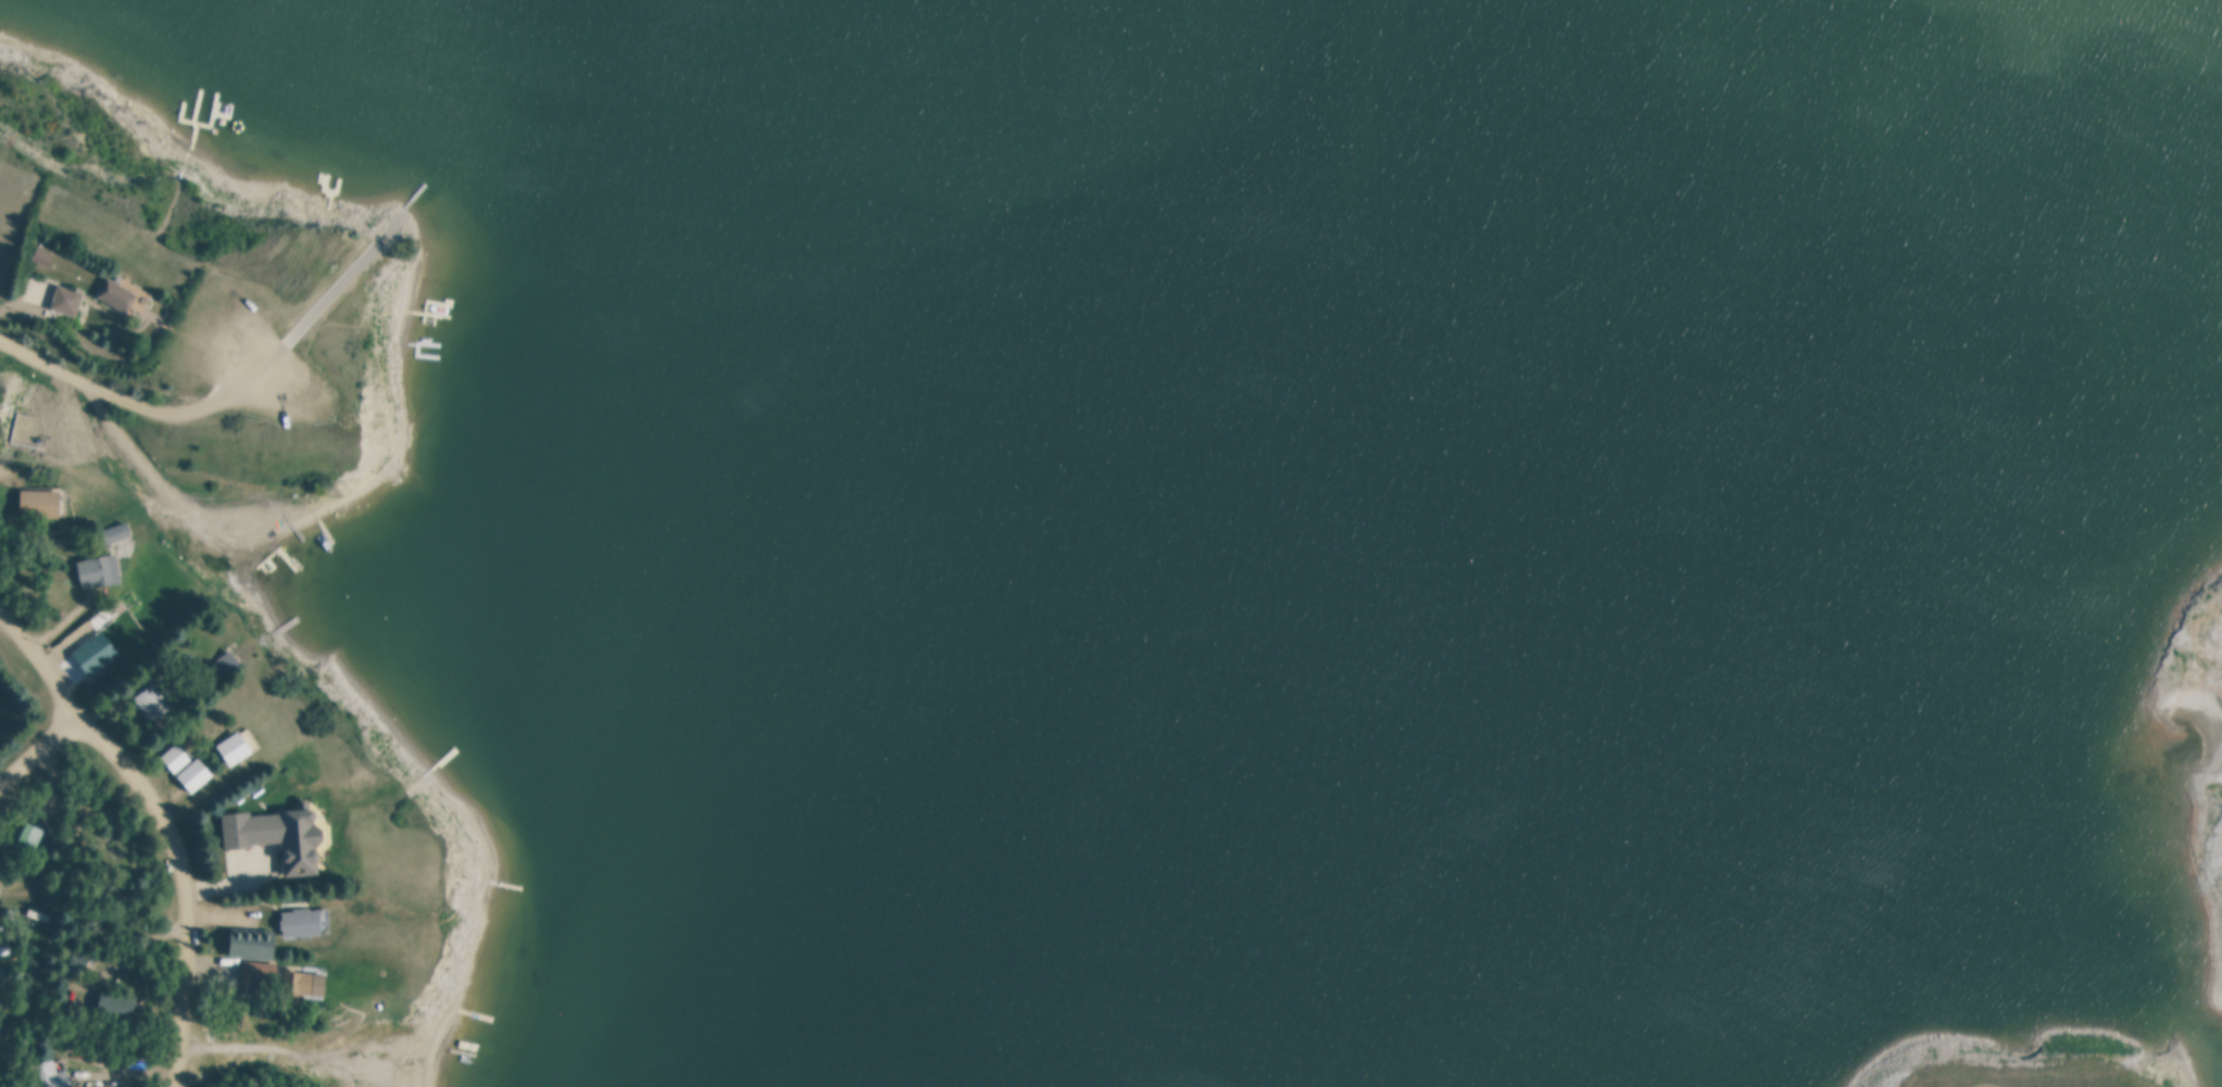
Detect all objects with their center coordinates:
pier: (390, 226)
building: (43, 254)
building: (120, 292)
pier: (381, 295)
building: (67, 299)
road: (321, 306)
pier: (403, 306)
pier: (405, 317)
pier: (391, 321)
pier: (403, 328)
pier: (401, 340)
road: (126, 399)
building: (14, 434)
building: (40, 503)
building: (111, 536)
building: (100, 571)
road: (78, 639)
building: (96, 653)
road: (42, 659)
building: (153, 702)
building: (210, 733)
building: (237, 747)
road: (46, 754)
building: (177, 758)
building: (197, 774)
building: (280, 834)
building: (24, 835)
road: (188, 883)
building: (306, 921)
building: (253, 943)
building: (5, 971)
building: (234, 973)
building: (261, 973)
building: (298, 984)
building: (262, 993)
building: (2, 999)
building: (117, 1004)
park: (2023, 1071)
building: (51, 1076)

